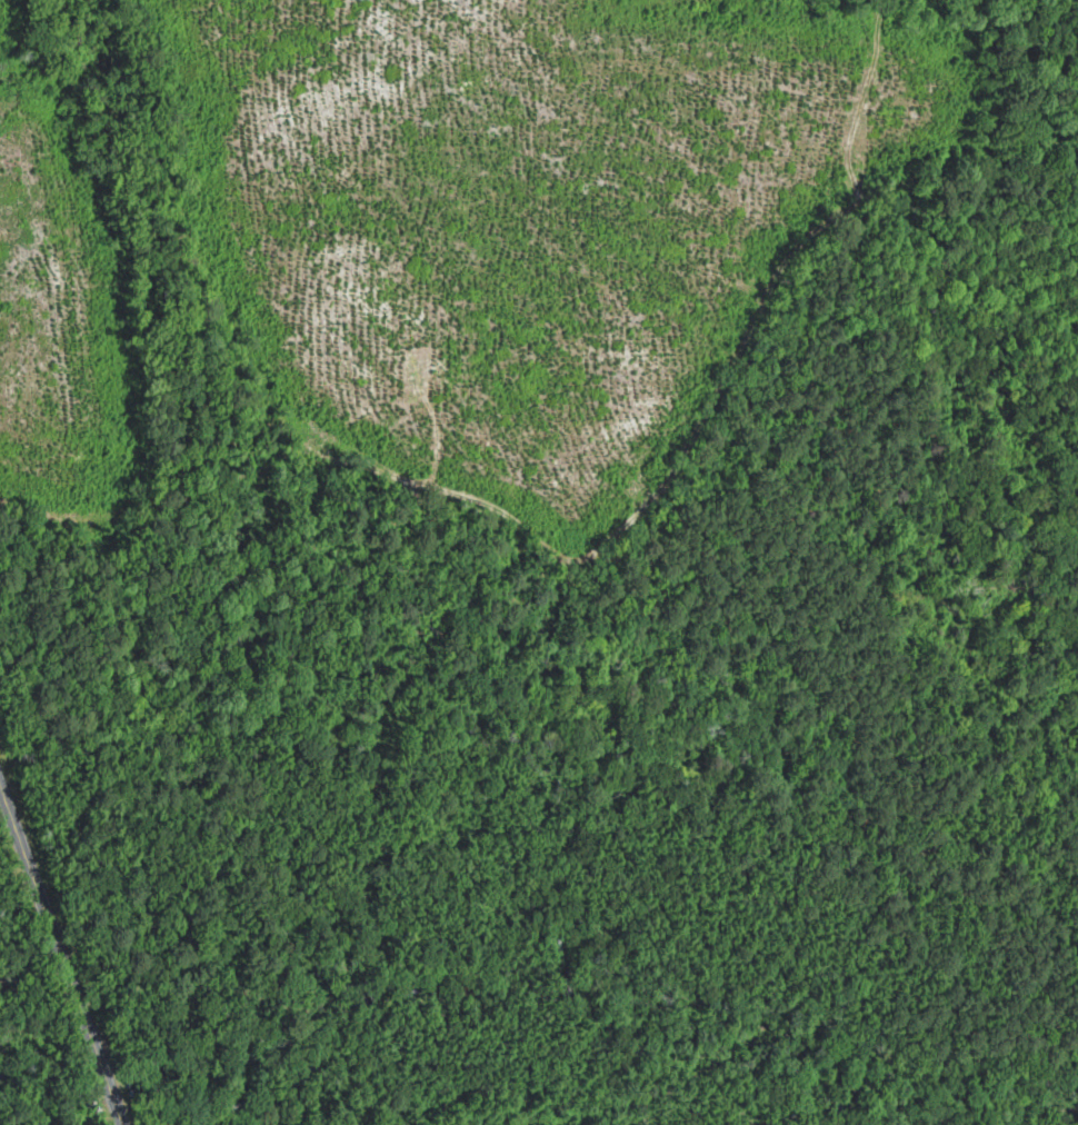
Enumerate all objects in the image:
road: (61, 954)

